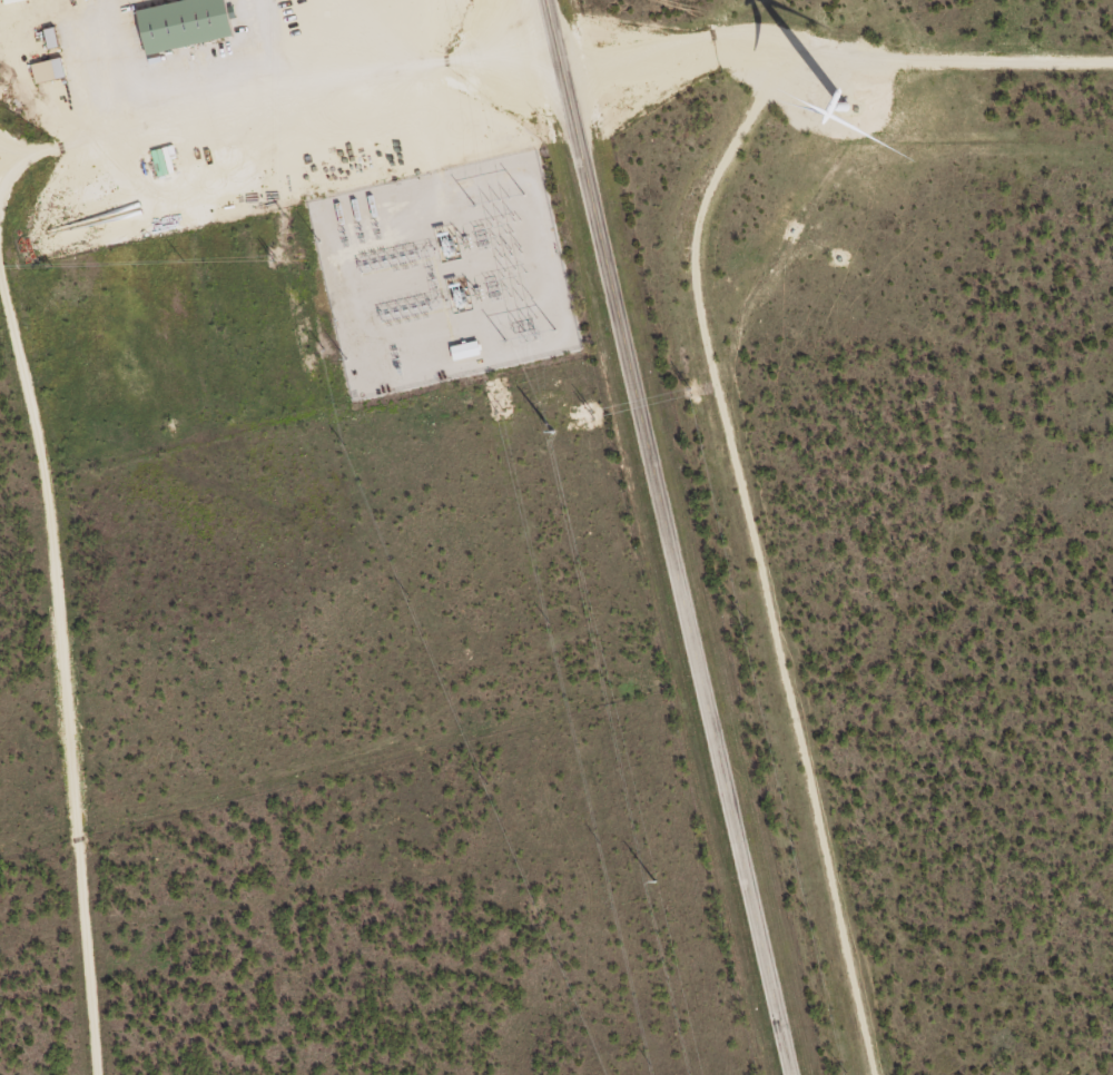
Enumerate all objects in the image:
building: (186, 24)
building: (49, 71)
wind turbine: (839, 106)
building: (164, 160)
power substation: (439, 276)
building: (466, 351)
power tower: (548, 433)
road: (640, 537)
power tower: (650, 882)

